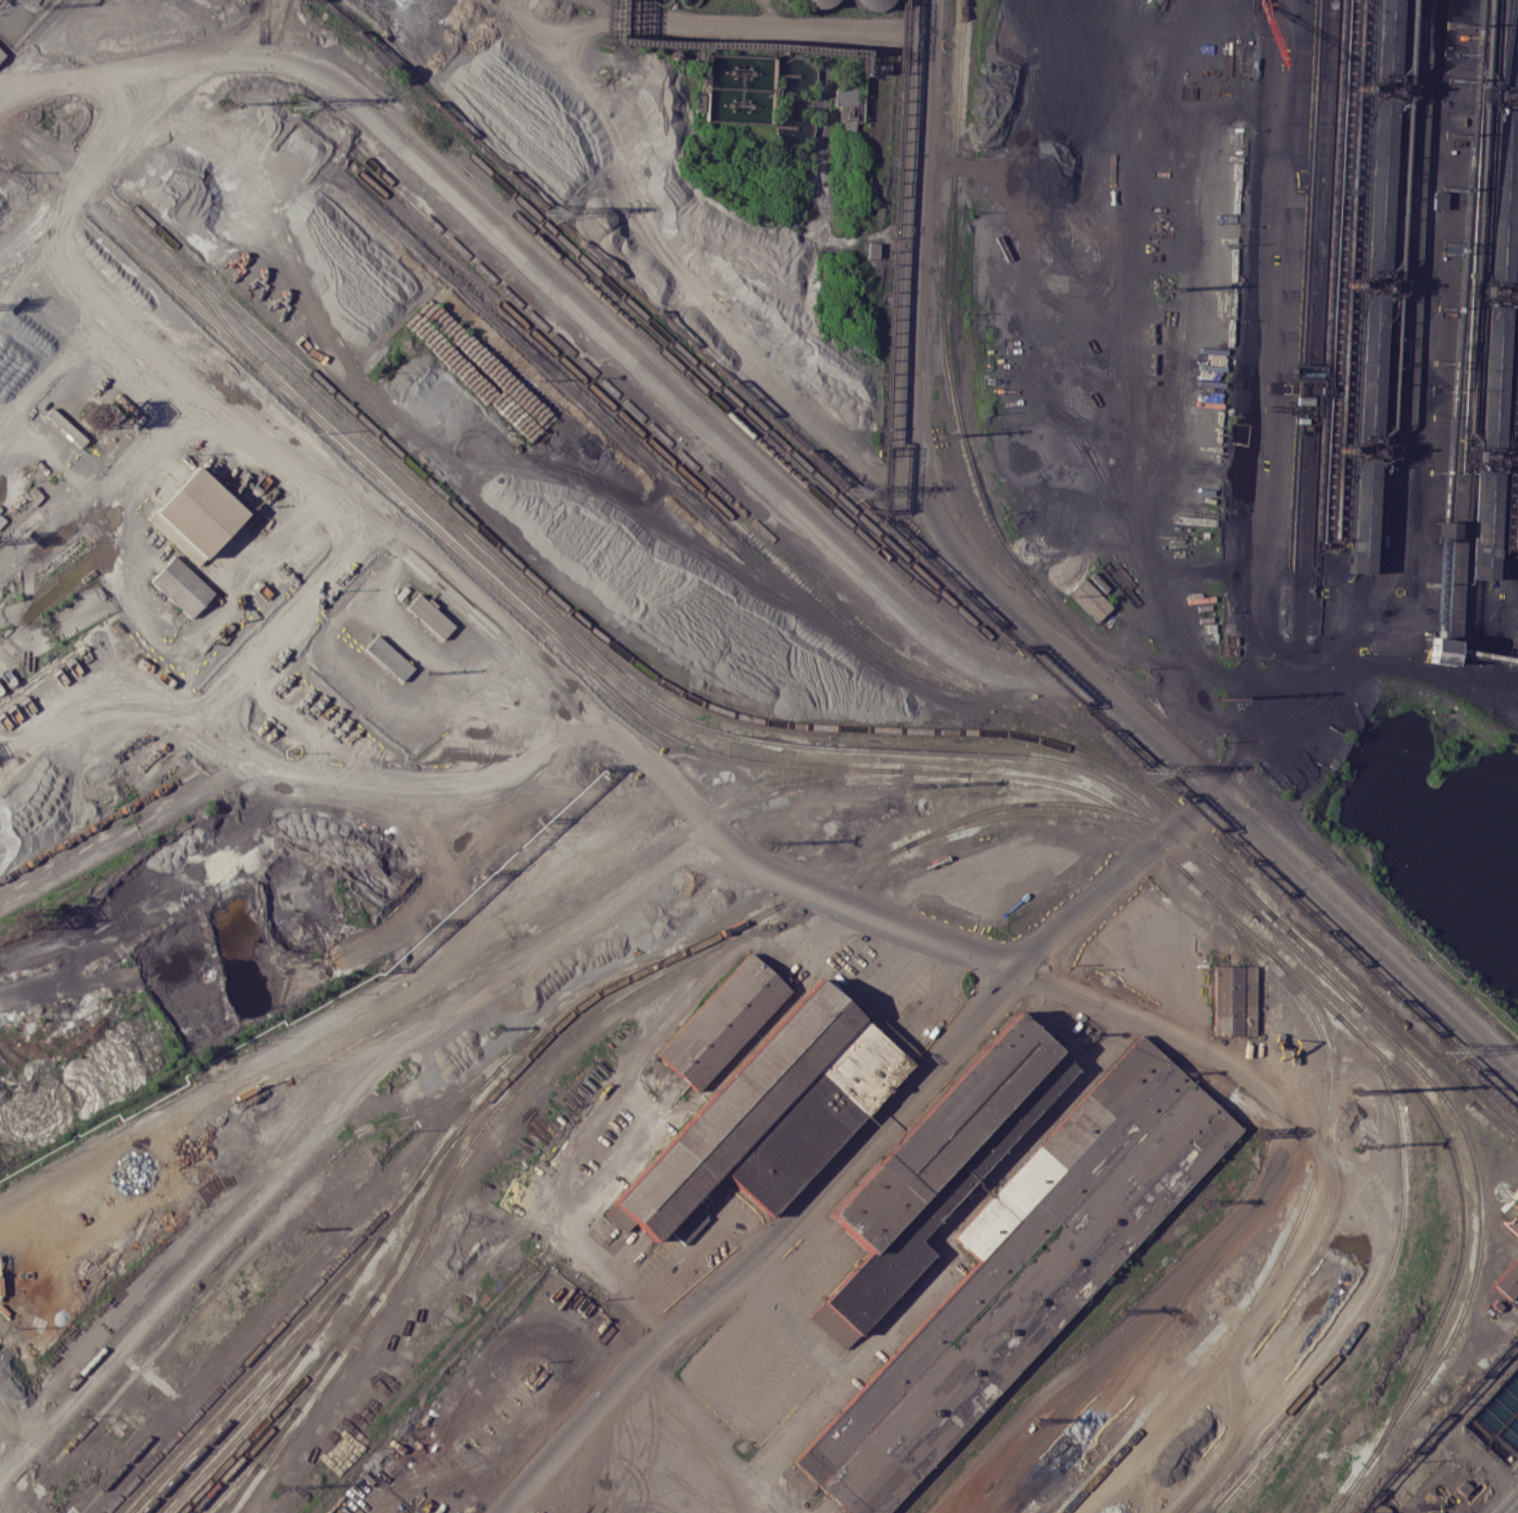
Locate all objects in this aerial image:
building: (815, 2)
building: (870, 3)
road: (590, 9)
road: (273, 22)
road: (284, 22)
road: (768, 22)
railway: (1383, 37)
building: (1385, 37)
railway: (1509, 44)
building: (1507, 46)
building: (2, 53)
railway: (1381, 85)
road: (6, 94)
railway: (1506, 99)
road: (1201, 116)
road: (405, 136)
road: (972, 167)
railway: (1376, 184)
building: (1377, 184)
building: (1501, 197)
railway: (1501, 197)
building: (1437, 200)
road: (1026, 271)
railway: (1371, 284)
railway: (615, 290)
railway: (1496, 297)
railway: (211, 305)
road: (1422, 307)
road: (1263, 315)
road: (1121, 318)
railway: (542, 324)
railway: (529, 330)
railway: (269, 347)
railway: (1367, 368)
building: (1369, 368)
building: (1491, 379)
railway: (1492, 379)
railway: (333, 391)
railway: (684, 440)
railway: (1363, 450)
railway: (1488, 462)
railway: (381, 476)
railway: (824, 503)
building: (196, 515)
railway: (1360, 518)
building: (1361, 518)
building: (1484, 527)
railway: (1485, 528)
railway: (765, 533)
railway: (882, 537)
building: (181, 584)
building: (1086, 600)
railway: (1356, 600)
road: (908, 606)
railway: (1055, 609)
building: (429, 616)
road: (1030, 622)
railway: (888, 623)
railway: (1480, 623)
railway: (593, 645)
railway: (896, 648)
building: (1434, 649)
road: (245, 656)
building: (388, 657)
railway: (894, 660)
road: (1378, 670)
railway: (665, 684)
road: (92, 703)
railway: (679, 716)
railway: (889, 729)
railway: (1014, 735)
railway: (773, 741)
railway: (899, 751)
railway: (1030, 756)
railway: (877, 768)
road: (2, 770)
railway: (1125, 773)
road: (274, 793)
road: (701, 811)
railway: (1054, 812)
railway: (98, 825)
road: (1179, 826)
railway: (939, 829)
railway: (1240, 877)
railway: (1232, 891)
railway: (585, 899)
railway: (554, 906)
road: (952, 929)
railway: (684, 961)
railway: (604, 982)
railway: (1361, 984)
building: (1233, 998)
building: (721, 1018)
road: (656, 1034)
railway: (1360, 1034)
railway: (1402, 1035)
railway: (470, 1082)
railway: (480, 1085)
railway: (508, 1091)
building: (736, 1109)
building: (815, 1113)
road: (330, 1120)
railway: (465, 1131)
building: (942, 1131)
building: (1061, 1148)
railway: (428, 1150)
railway: (259, 1168)
building: (950, 1186)
railway: (243, 1197)
building: (1511, 1208)
railway: (281, 1211)
road: (1252, 1220)
railway: (1296, 1220)
building: (689, 1226)
railway: (1384, 1279)
building: (1508, 1279)
railway: (311, 1291)
railway: (391, 1292)
building: (1017, 1293)
railway: (374, 1296)
railway: (315, 1311)
road: (1335, 1320)
railway: (245, 1323)
railway: (300, 1342)
railway: (301, 1353)
railway: (279, 1377)
railway: (308, 1384)
railway: (296, 1385)
railway: (94, 1417)
railway: (1276, 1422)
road: (563, 1443)
railway: (272, 1444)
railway: (188, 1448)
railway: (199, 1451)
railway: (1260, 1452)
railway: (280, 1455)
railway: (202, 1462)
railway: (235, 1465)
railway: (243, 1469)
railway: (243, 1488)
railway: (198, 1494)
railway: (223, 1506)
road: (1511, 1506)

